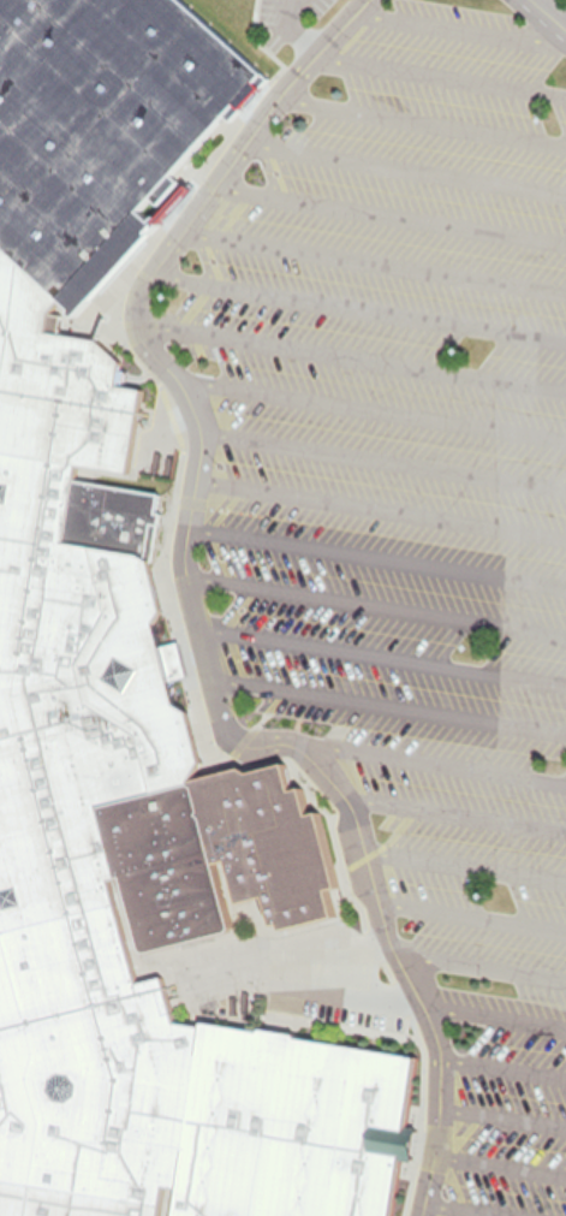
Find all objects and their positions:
road: (286, 1)
road: (548, 14)
road: (461, 20)
road: (294, 24)
road: (441, 69)
road: (424, 112)
road: (409, 159)
road: (392, 207)
road: (375, 257)
road: (362, 301)
road: (350, 349)
parking lot: (393, 358)
road: (367, 401)
road: (382, 453)
road: (381, 499)
road: (377, 548)
road: (375, 598)
road: (191, 613)
road: (380, 648)
building: (118, 688)
road: (387, 698)
road: (428, 754)
road: (455, 806)
building: (219, 844)
road: (465, 859)
parking lot: (459, 888)
road: (471, 912)
road: (478, 960)
road: (356, 986)
road: (495, 1010)
road: (502, 1062)
road: (501, 1109)
road: (500, 1161)
road: (489, 1203)

